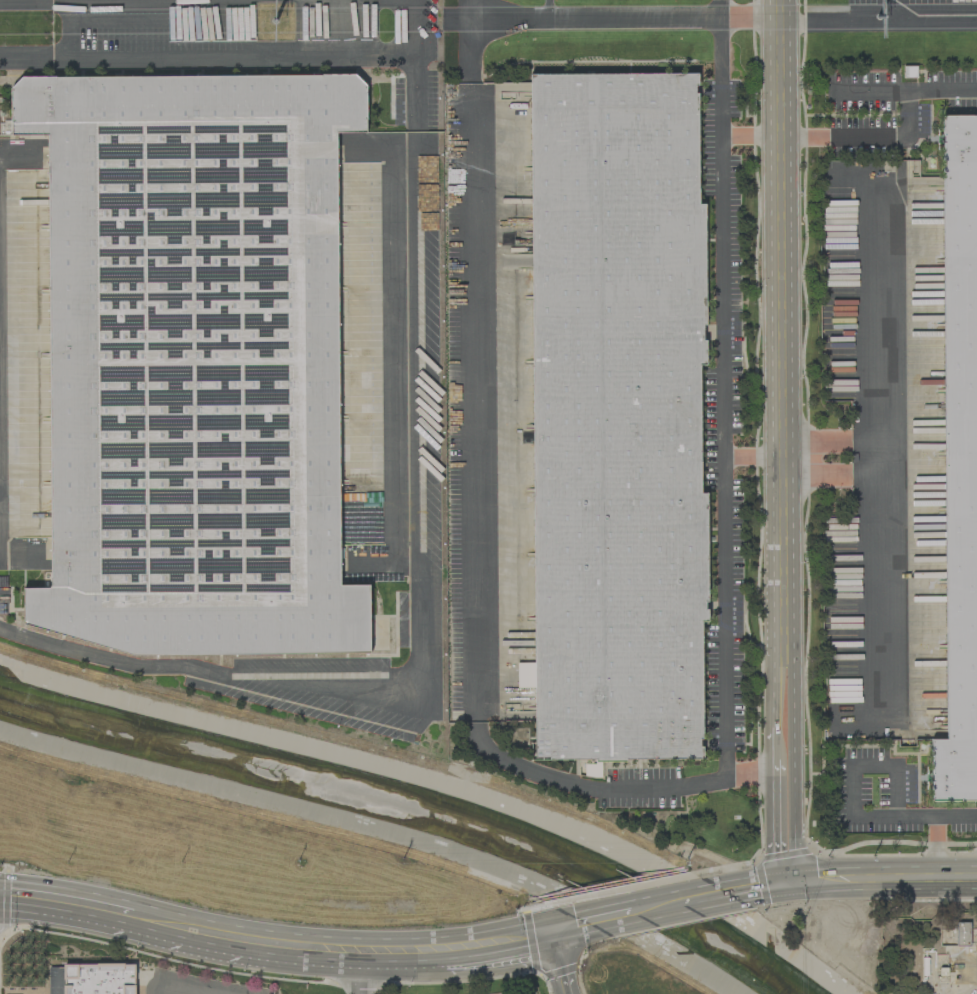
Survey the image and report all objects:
road: (205, 2)
road: (412, 2)
road: (899, 9)
road: (878, 19)
road: (750, 20)
power tower: (877, 22)
power tower: (276, 23)
road: (597, 23)
road: (227, 53)
road: (870, 90)
road: (903, 138)
road: (751, 139)
building: (192, 362)
road: (875, 362)
building: (616, 419)
road: (783, 439)
road: (754, 457)
building: (959, 464)
road: (879, 590)
road: (413, 630)
road: (617, 789)
road: (897, 816)
road: (935, 826)
road: (881, 878)
traffic signals: (787, 879)
road: (763, 884)
road: (711, 895)
road: (657, 908)
road: (64, 909)
road: (609, 920)
road: (568, 932)
building: (962, 933)
road: (197, 936)
traffic signals: (550, 939)
road: (515, 945)
road: (461, 954)
wastewater plant: (927, 954)
road: (353, 959)
road: (556, 966)
road: (357, 977)
building: (98, 979)
road: (170, 989)

